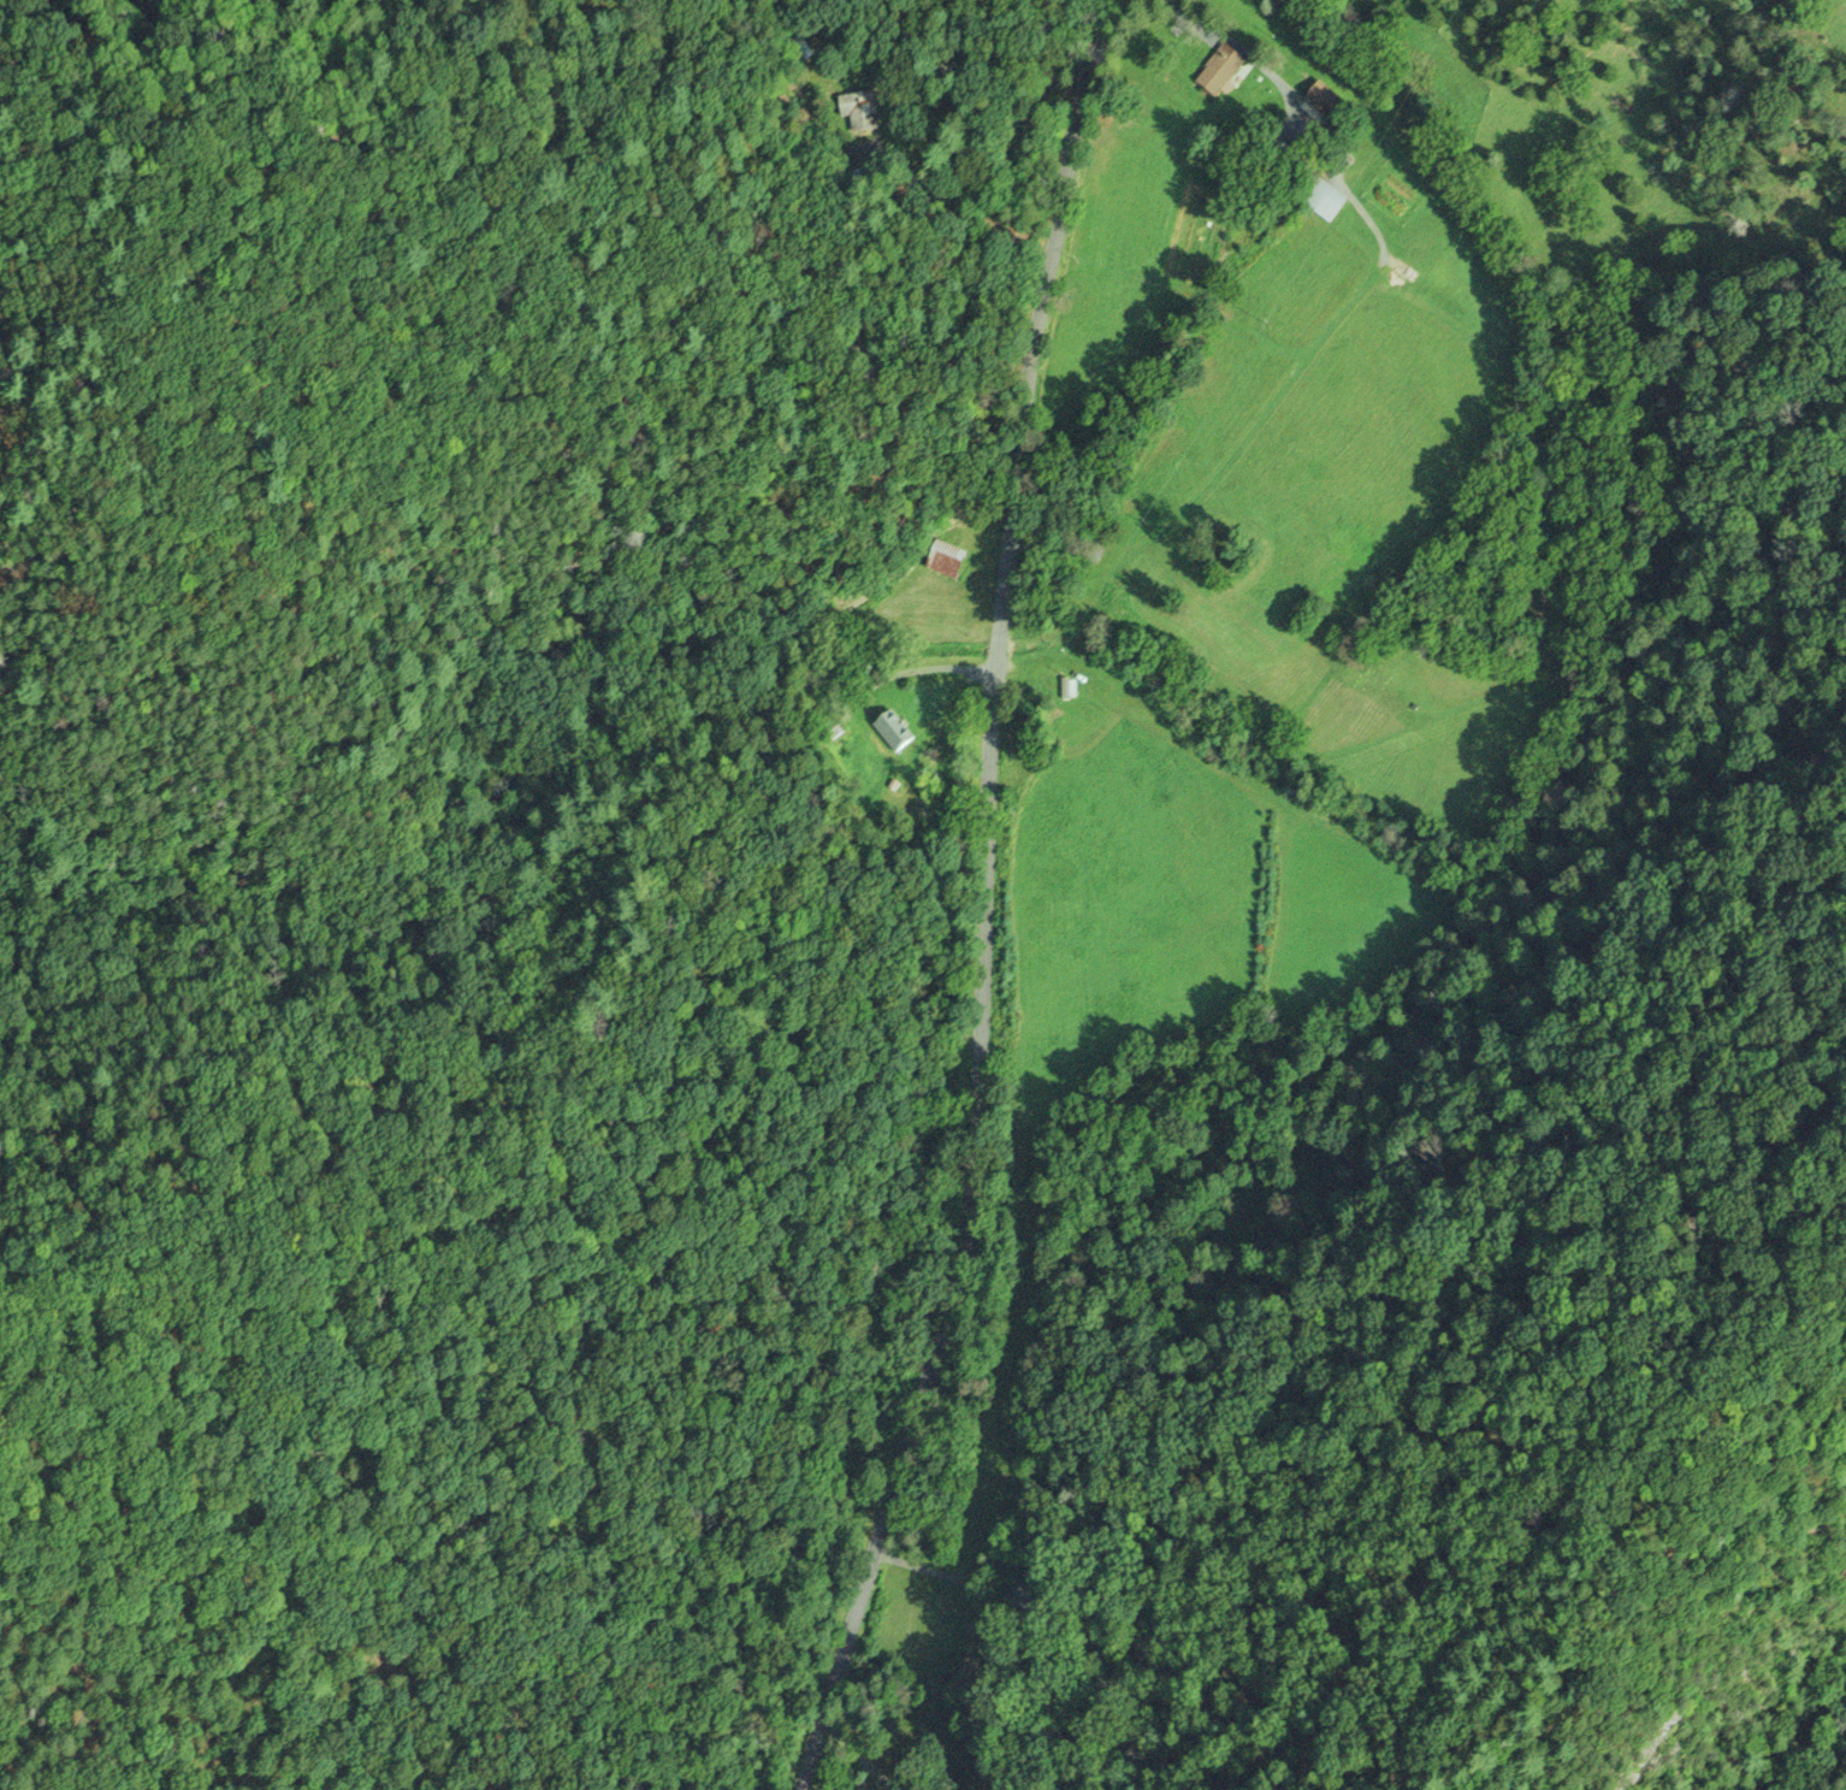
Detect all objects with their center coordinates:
building: (801, 45)
building: (1217, 67)
building: (1321, 96)
building: (858, 107)
building: (1324, 196)
building: (942, 557)
building: (1067, 686)
building: (891, 733)
road: (526, 820)
road: (986, 897)

